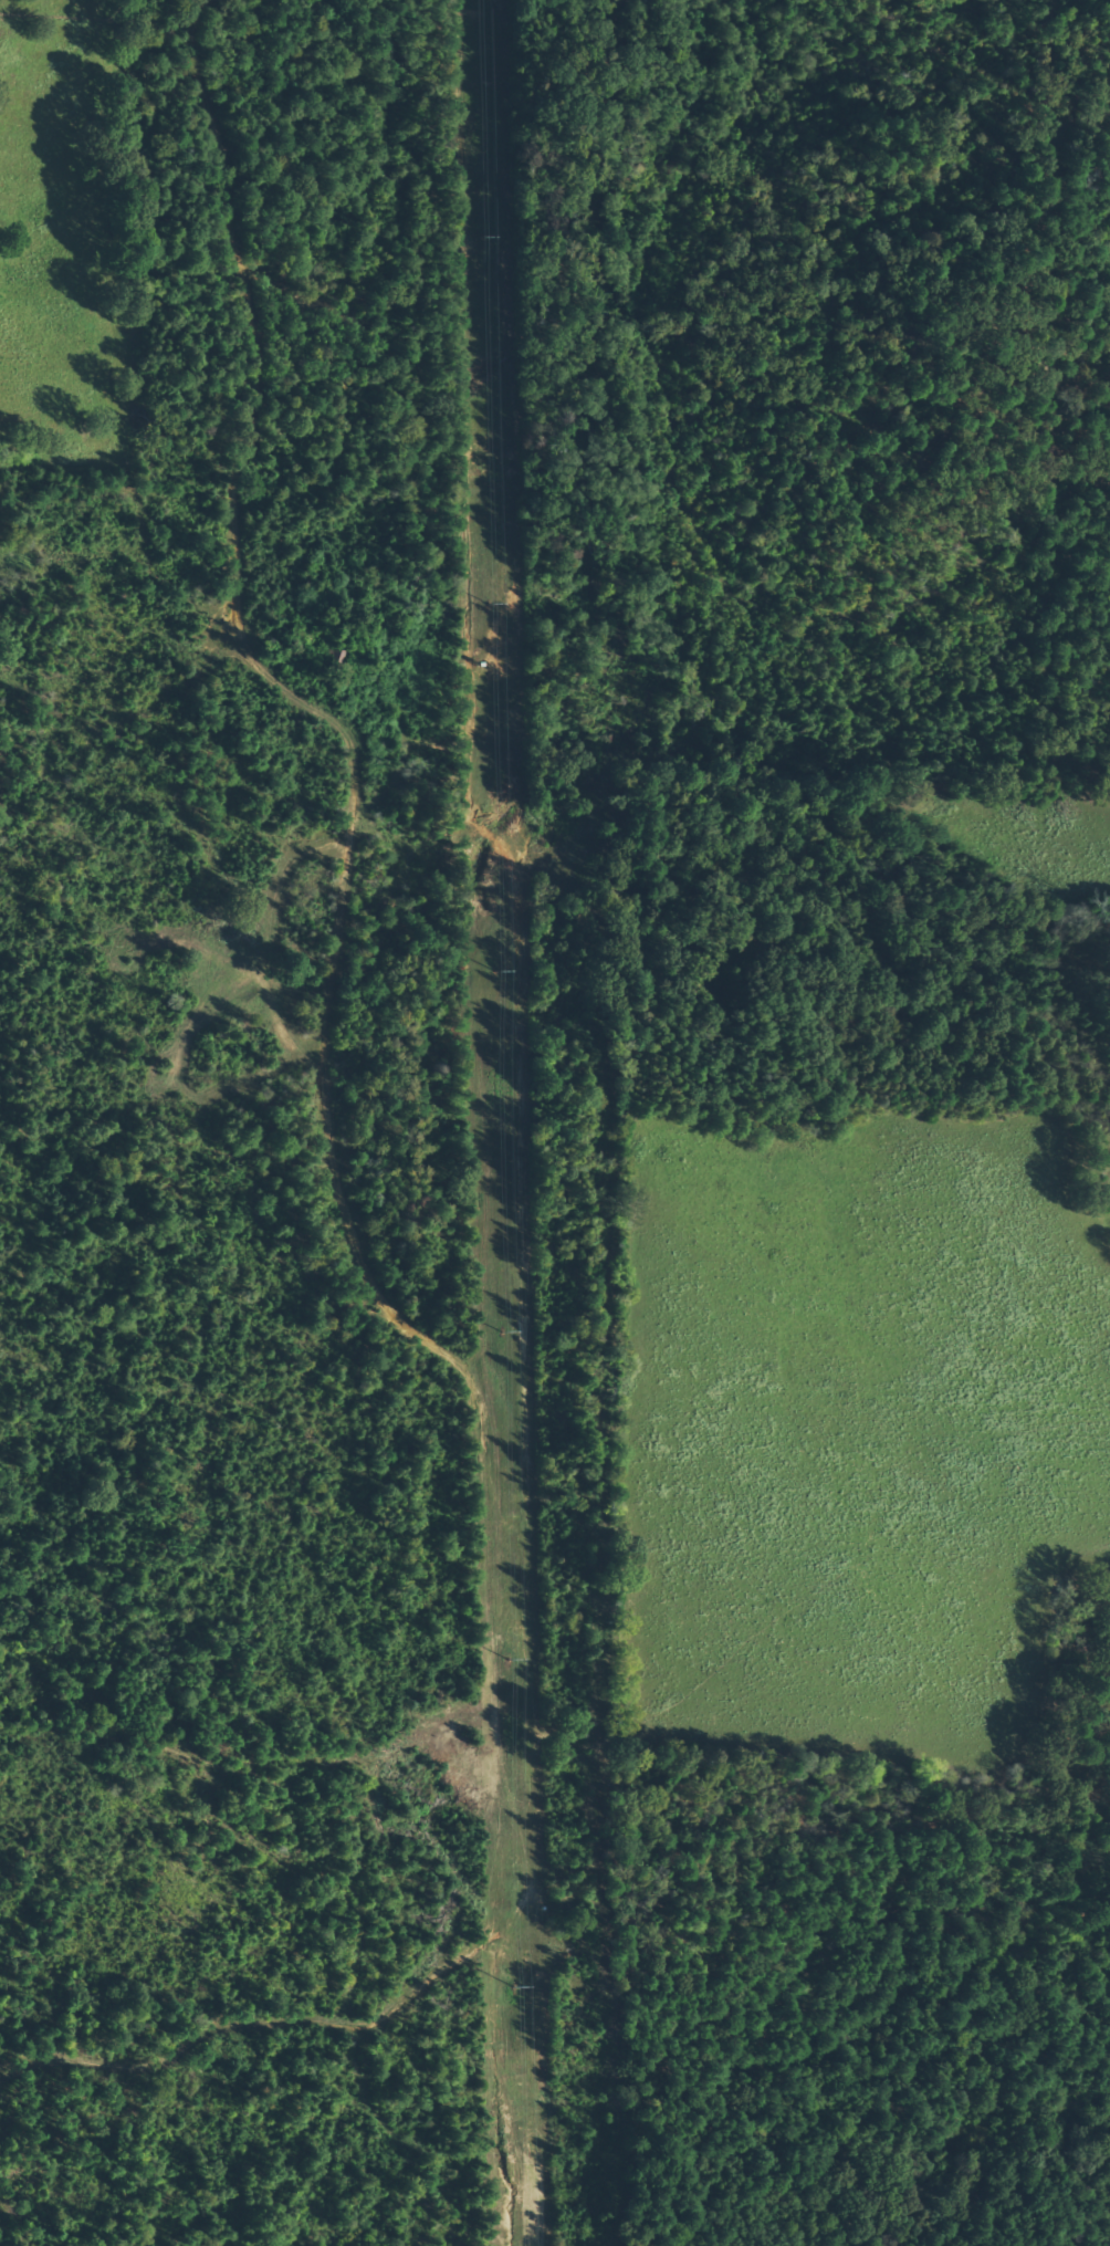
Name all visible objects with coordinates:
road: (179, 523)

